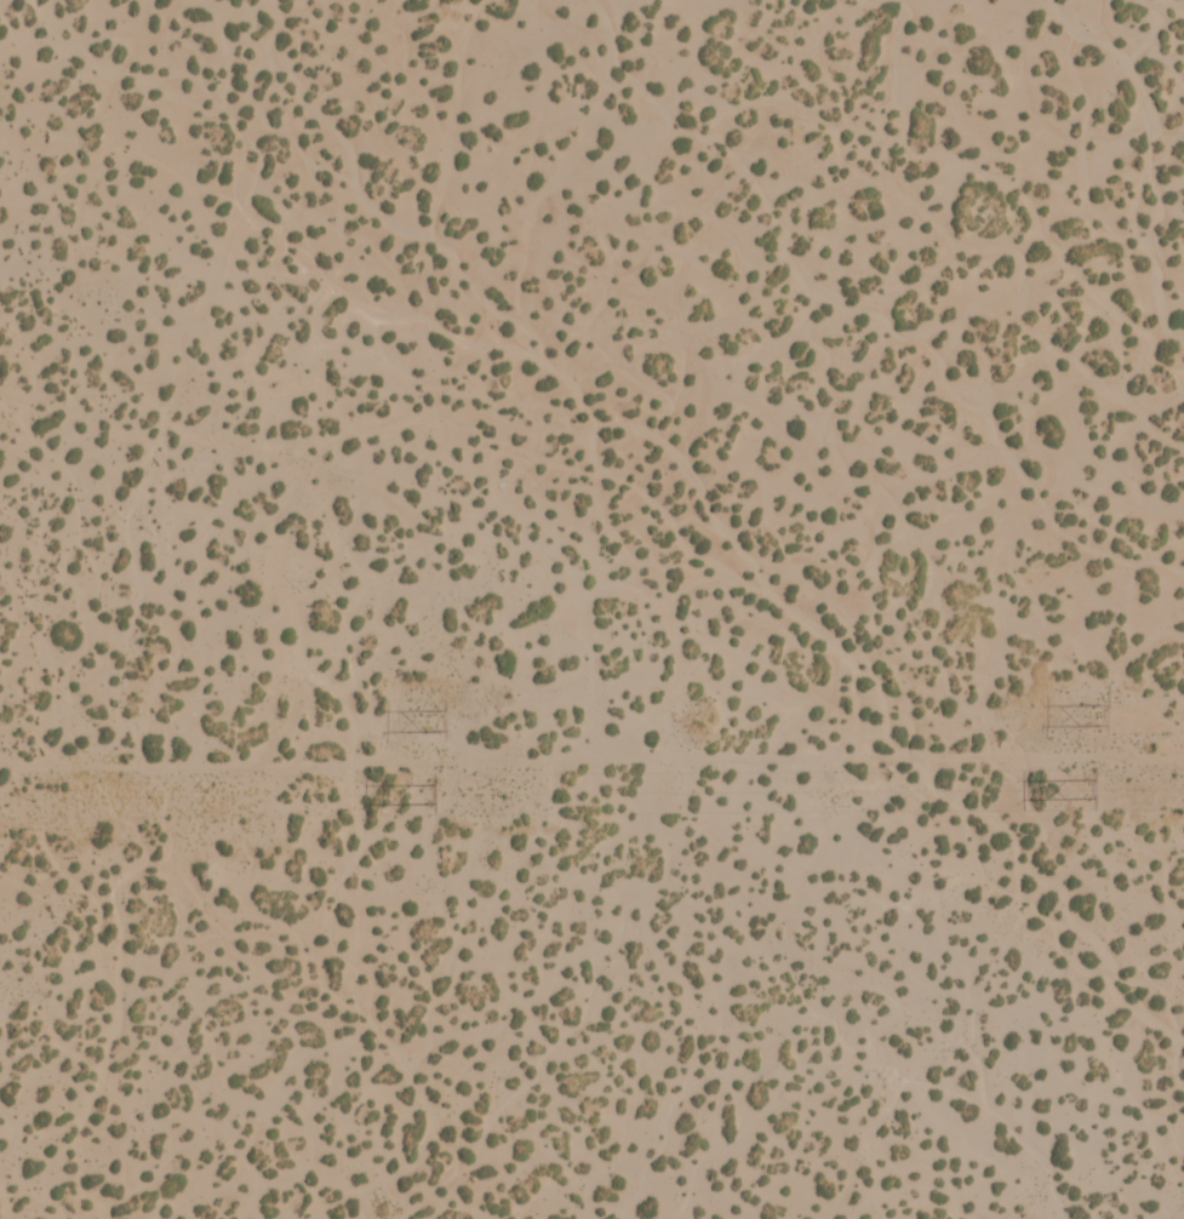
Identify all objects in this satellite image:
power tower: (1083, 714)
power tower: (424, 721)
power tower: (1082, 785)
power tower: (428, 792)

